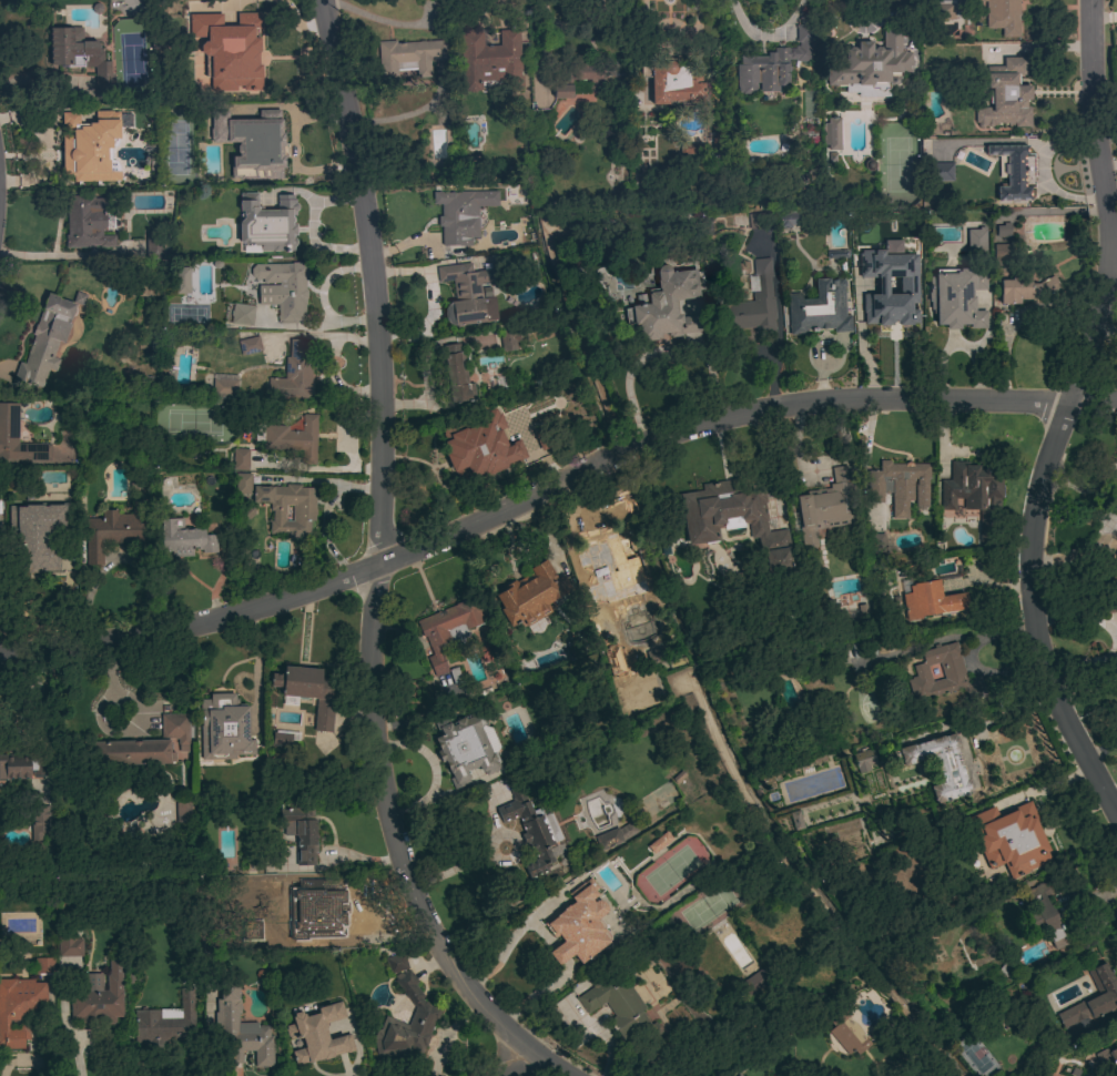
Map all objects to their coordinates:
building: (944, 9)
building: (1003, 16)
building: (229, 49)
building: (80, 55)
building: (407, 57)
building: (489, 60)
building: (773, 63)
building: (870, 67)
building: (672, 83)
building: (561, 85)
building: (572, 93)
building: (1005, 95)
building: (831, 133)
building: (251, 143)
building: (89, 146)
building: (693, 149)
building: (940, 172)
building: (1011, 172)
building: (461, 214)
building: (880, 217)
building: (766, 220)
building: (267, 223)
building: (85, 224)
building: (1003, 232)
building: (975, 241)
building: (911, 242)
building: (153, 250)
building: (1002, 252)
building: (181, 281)
building: (283, 288)
building: (1025, 288)
building: (466, 293)
building: (956, 297)
building: (753, 303)
building: (666, 306)
building: (819, 308)
building: (884, 311)
building: (242, 315)
building: (508, 339)
building: (44, 342)
building: (248, 345)
building: (294, 372)
building: (456, 374)
building: (223, 388)
road: (1063, 414)
building: (17, 438)
building: (294, 438)
building: (485, 450)
building: (240, 459)
building: (243, 484)
building: (898, 485)
road: (552, 487)
building: (974, 495)
building: (825, 507)
building: (303, 512)
building: (700, 525)
building: (114, 530)
building: (183, 538)
building: (601, 555)
building: (54, 557)
road: (384, 570)
building: (530, 595)
building: (930, 600)
building: (1110, 602)
building: (862, 611)
building: (601, 612)
building: (448, 629)
road: (945, 638)
building: (860, 649)
building: (654, 656)
road: (989, 672)
building: (942, 674)
building: (455, 676)
building: (308, 692)
building: (223, 728)
building: (281, 739)
building: (144, 745)
building: (464, 749)
building: (863, 760)
building: (938, 765)
building: (21, 767)
road: (433, 769)
building: (183, 812)
building: (40, 819)
building: (795, 820)
building: (530, 829)
building: (301, 833)
building: (613, 836)
building: (1007, 839)
building: (659, 842)
road: (486, 853)
building: (1045, 912)
building: (324, 913)
building: (578, 925)
building: (257, 928)
building: (69, 943)
building: (396, 963)
building: (43, 965)
building: (1006, 971)
building: (755, 976)
building: (756, 983)
building: (98, 996)
building: (1093, 998)
building: (618, 1003)
building: (20, 1009)
building: (406, 1023)
building: (166, 1024)
building: (238, 1031)
building: (846, 1034)
building: (317, 1035)
building: (1116, 1035)
building: (1107, 1057)
road: (505, 1064)
building: (738, 1075)

